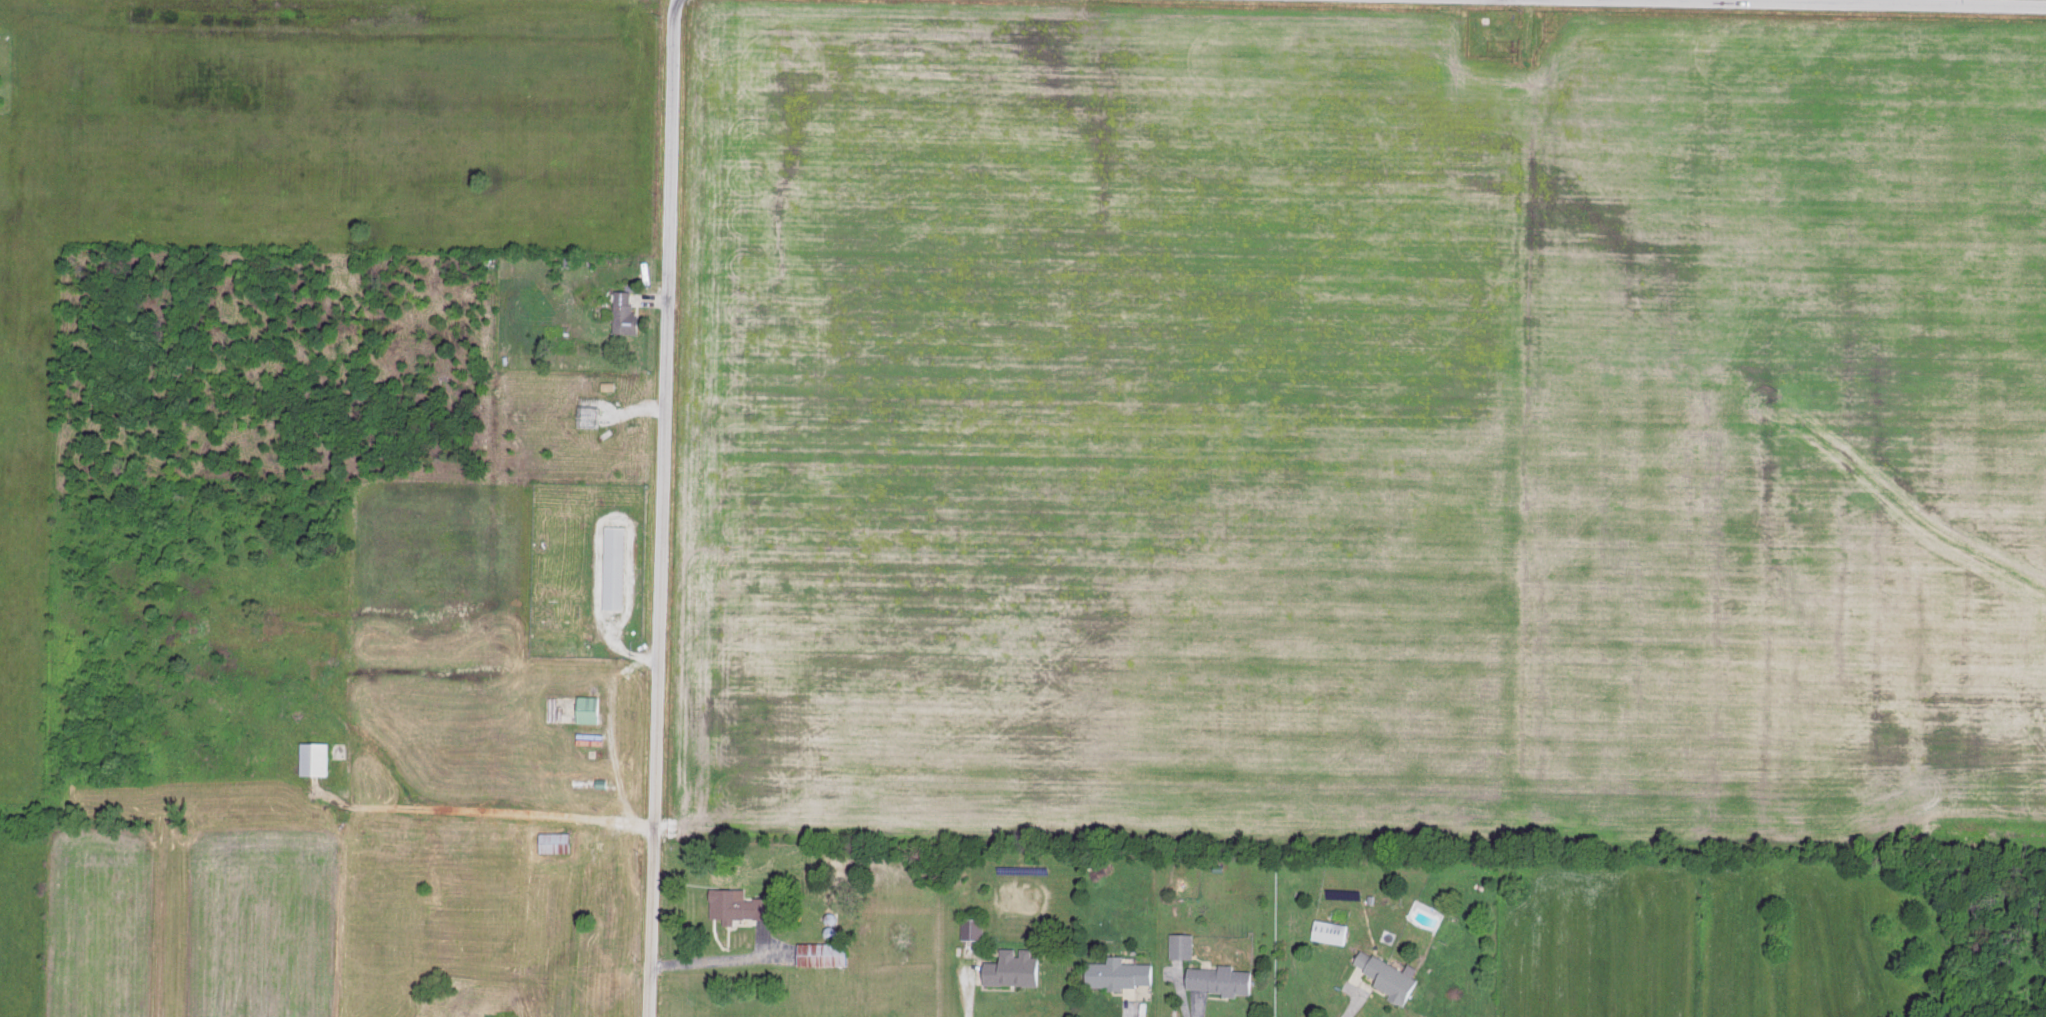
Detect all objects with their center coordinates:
road: (1520, 1)
road: (1717, 4)
building: (628, 312)
road: (659, 508)
road: (595, 539)
building: (617, 566)
building: (593, 708)
building: (317, 757)
building: (557, 841)
building: (742, 903)
building: (975, 926)
building: (1331, 930)
building: (1184, 943)
building: (825, 952)
building: (1017, 966)
building: (1123, 971)
building: (1392, 974)
building: (1223, 978)
road: (1355, 1010)

